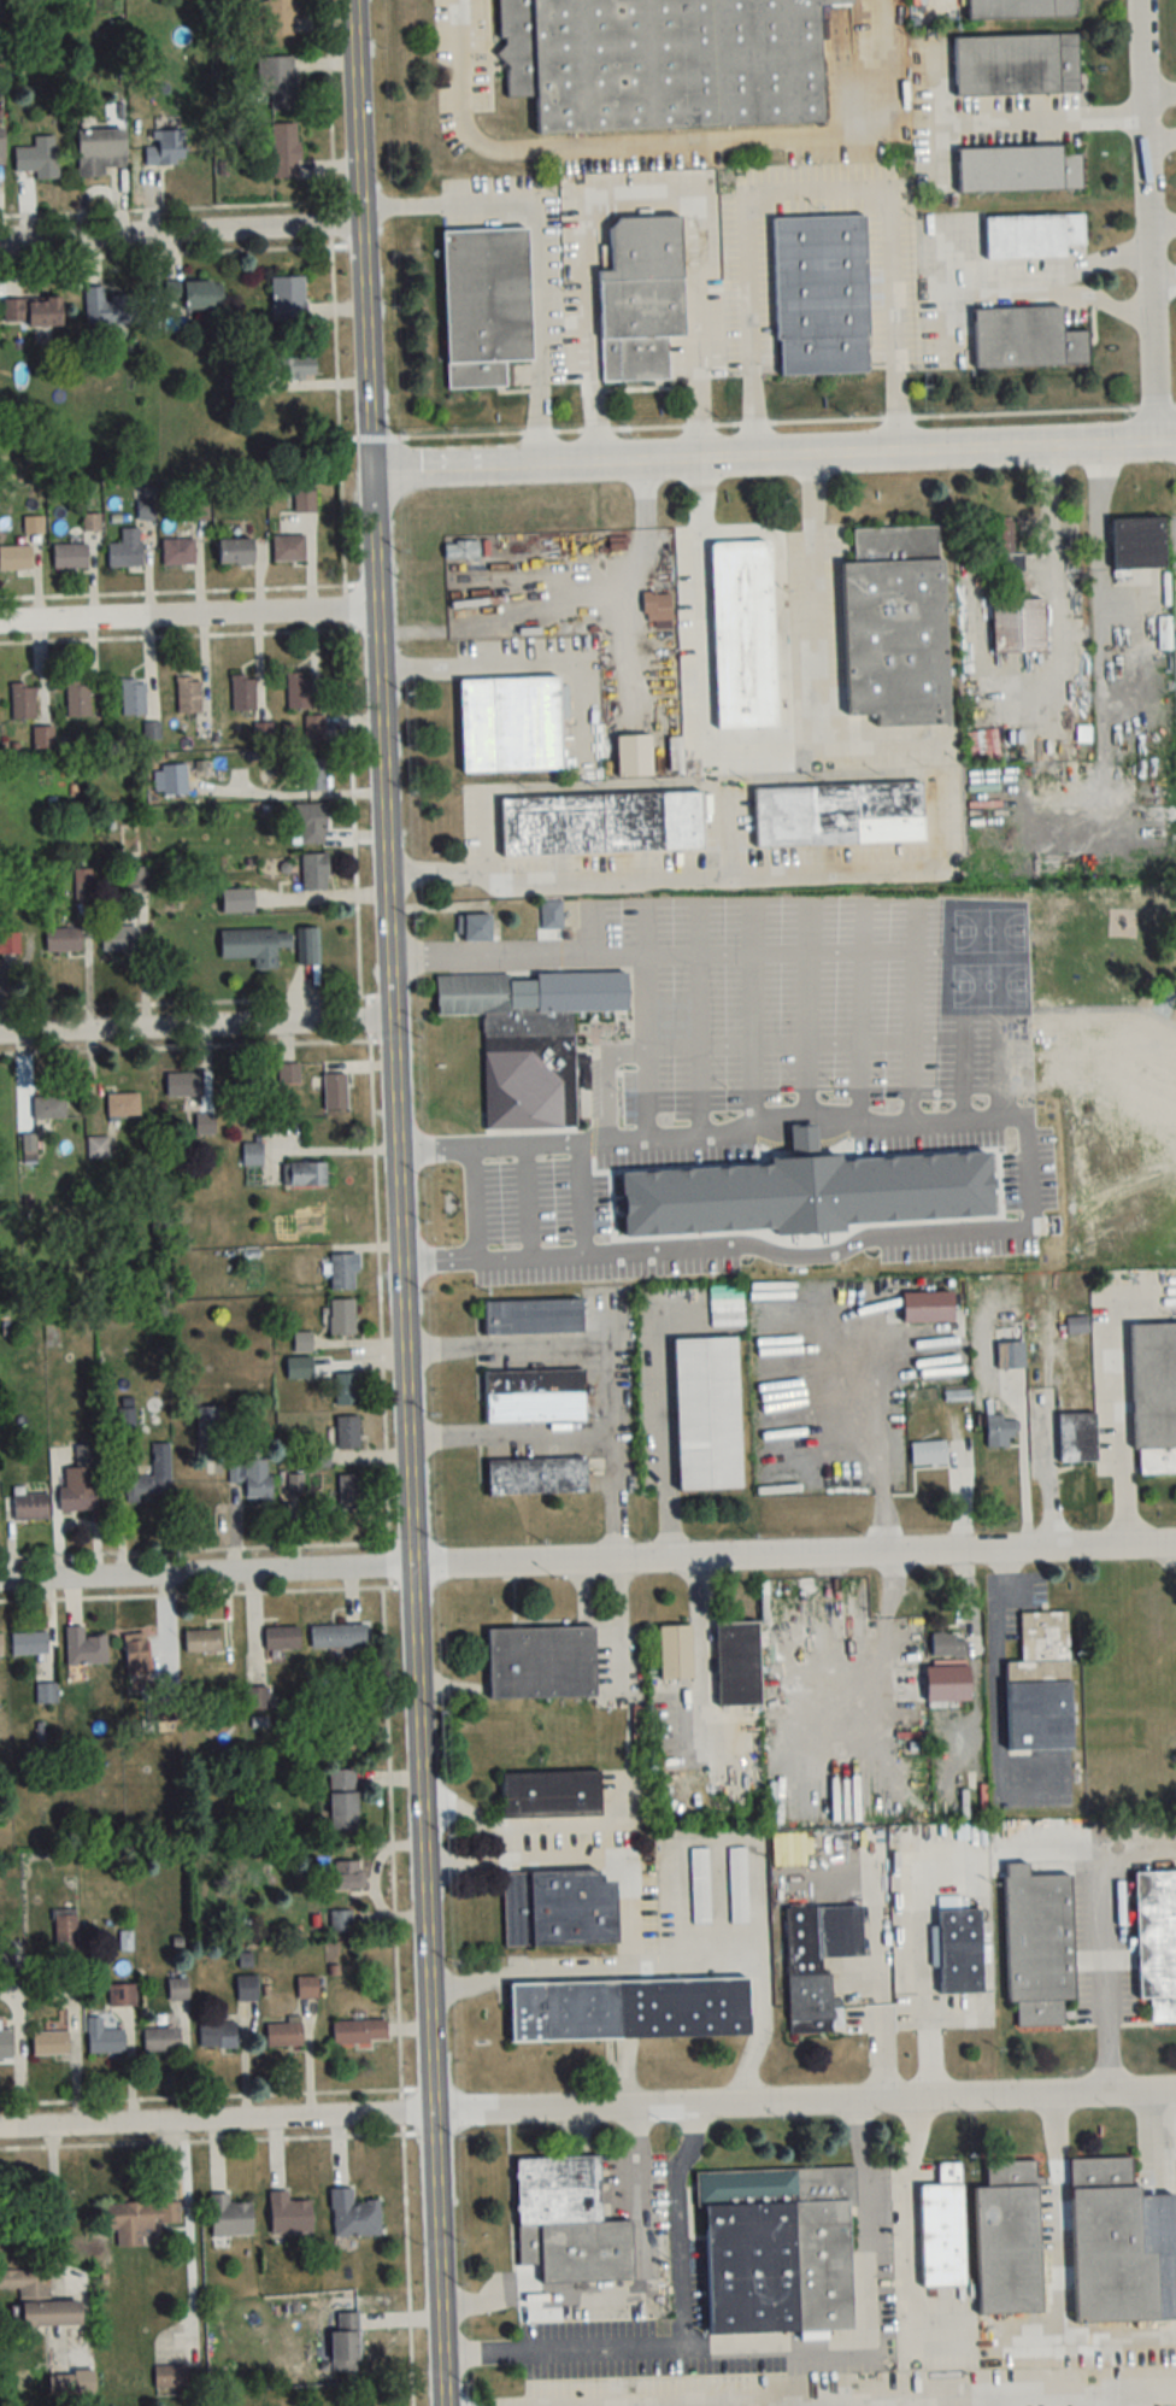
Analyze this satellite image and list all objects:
building: (1019, 8)
building: (280, 17)
building: (664, 63)
building: (1016, 64)
building: (277, 81)
road: (1159, 93)
road: (1037, 119)
road: (668, 137)
road: (1160, 137)
building: (1, 146)
building: (165, 146)
building: (100, 151)
building: (282, 151)
building: (37, 158)
building: (1018, 169)
road: (817, 186)
road: (640, 193)
road: (1147, 221)
road: (180, 229)
road: (1162, 231)
building: (1031, 235)
road: (533, 248)
road: (947, 250)
road: (1163, 266)
road: (1011, 276)
building: (195, 293)
building: (821, 294)
building: (287, 298)
building: (641, 298)
building: (484, 304)
building: (108, 306)
building: (31, 311)
building: (1025, 338)
building: (295, 368)
road: (774, 459)
building: (304, 500)
building: (1137, 542)
building: (287, 547)
building: (125, 548)
building: (460, 548)
building: (177, 551)
building: (235, 551)
building: (70, 556)
building: (14, 558)
road: (1060, 565)
building: (1013, 595)
road: (816, 600)
road: (701, 605)
building: (657, 606)
road: (188, 616)
building: (895, 626)
building: (743, 634)
road: (525, 663)
building: (298, 691)
building: (242, 693)
building: (133, 697)
building: (188, 698)
building: (77, 699)
building: (23, 702)
building: (510, 724)
building: (313, 727)
building: (42, 738)
building: (633, 756)
building: (312, 774)
building: (171, 780)
building: (837, 814)
building: (308, 823)
building: (600, 823)
building: (130, 839)
road: (830, 863)
building: (313, 872)
building: (137, 878)
building: (237, 900)
building: (551, 916)
building: (474, 929)
building: (119, 938)
building: (63, 940)
building: (10, 943)
building: (254, 945)
building: (308, 946)
road: (610, 950)
road: (777, 950)
road: (196, 1031)
building: (529, 1038)
building: (288, 1074)
building: (184, 1085)
building: (334, 1092)
building: (123, 1104)
building: (48, 1108)
road: (775, 1120)
building: (204, 1125)
road: (514, 1140)
building: (98, 1146)
building: (28, 1149)
building: (252, 1155)
building: (304, 1174)
building: (577, 1199)
road: (400, 1202)
road: (366, 1203)
road: (898, 1237)
building: (341, 1272)
building: (725, 1305)
building: (341, 1316)
building: (531, 1318)
building: (302, 1342)
road: (611, 1348)
building: (1010, 1355)
building: (345, 1389)
building: (958, 1395)
building: (534, 1396)
building: (1153, 1397)
road: (1116, 1412)
building: (706, 1414)
road: (664, 1428)
road: (512, 1431)
building: (1000, 1431)
building: (347, 1433)
road: (864, 1433)
building: (211, 1434)
building: (1076, 1438)
building: (929, 1454)
building: (536, 1477)
building: (152, 1479)
building: (252, 1479)
building: (80, 1481)
road: (1045, 1481)
building: (295, 1483)
building: (349, 1491)
building: (30, 1508)
road: (795, 1554)
road: (206, 1573)
road: (994, 1601)
building: (337, 1637)
building: (282, 1638)
building: (201, 1642)
building: (28, 1643)
building: (1, 1645)
building: (948, 1645)
building: (84, 1647)
building: (675, 1653)
building: (136, 1655)
building: (541, 1662)
building: (737, 1665)
building: (1040, 1686)
building: (46, 1692)
building: (257, 1698)
building: (163, 1710)
road: (996, 1742)
building: (548, 1794)
building: (342, 1800)
road: (518, 1823)
road: (719, 1838)
building: (348, 1874)
building: (699, 1885)
building: (737, 1885)
building: (558, 1907)
building: (340, 1919)
building: (64, 1931)
building: (124, 1942)
building: (1157, 1942)
building: (1037, 1943)
road: (631, 1949)
building: (959, 1949)
building: (817, 1961)
building: (5, 1965)
road: (529, 1970)
road: (1106, 1971)
road: (923, 1983)
building: (247, 1987)
building: (307, 1987)
building: (177, 1988)
building: (122, 1994)
building: (629, 2008)
building: (359, 2031)
building: (283, 2034)
building: (217, 2035)
building: (160, 2038)
building: (105, 2041)
building: (49, 2043)
building: (5, 2044)
road: (805, 2105)
road: (217, 2123)
road: (1156, 2131)
road: (55, 2199)
building: (289, 2214)
building: (353, 2214)
building: (229, 2216)
road: (904, 2219)
building: (140, 2220)
building: (568, 2222)
road: (677, 2224)
building: (984, 2235)
road: (1058, 2244)
building: (1110, 2244)
building: (778, 2251)
building: (25, 2281)
building: (51, 2312)
road: (1118, 2330)
building: (343, 2342)
road: (776, 2345)
building: (170, 2376)
road: (855, 2398)
road: (1094, 2399)
road: (865, 2401)
road: (631, 2405)

